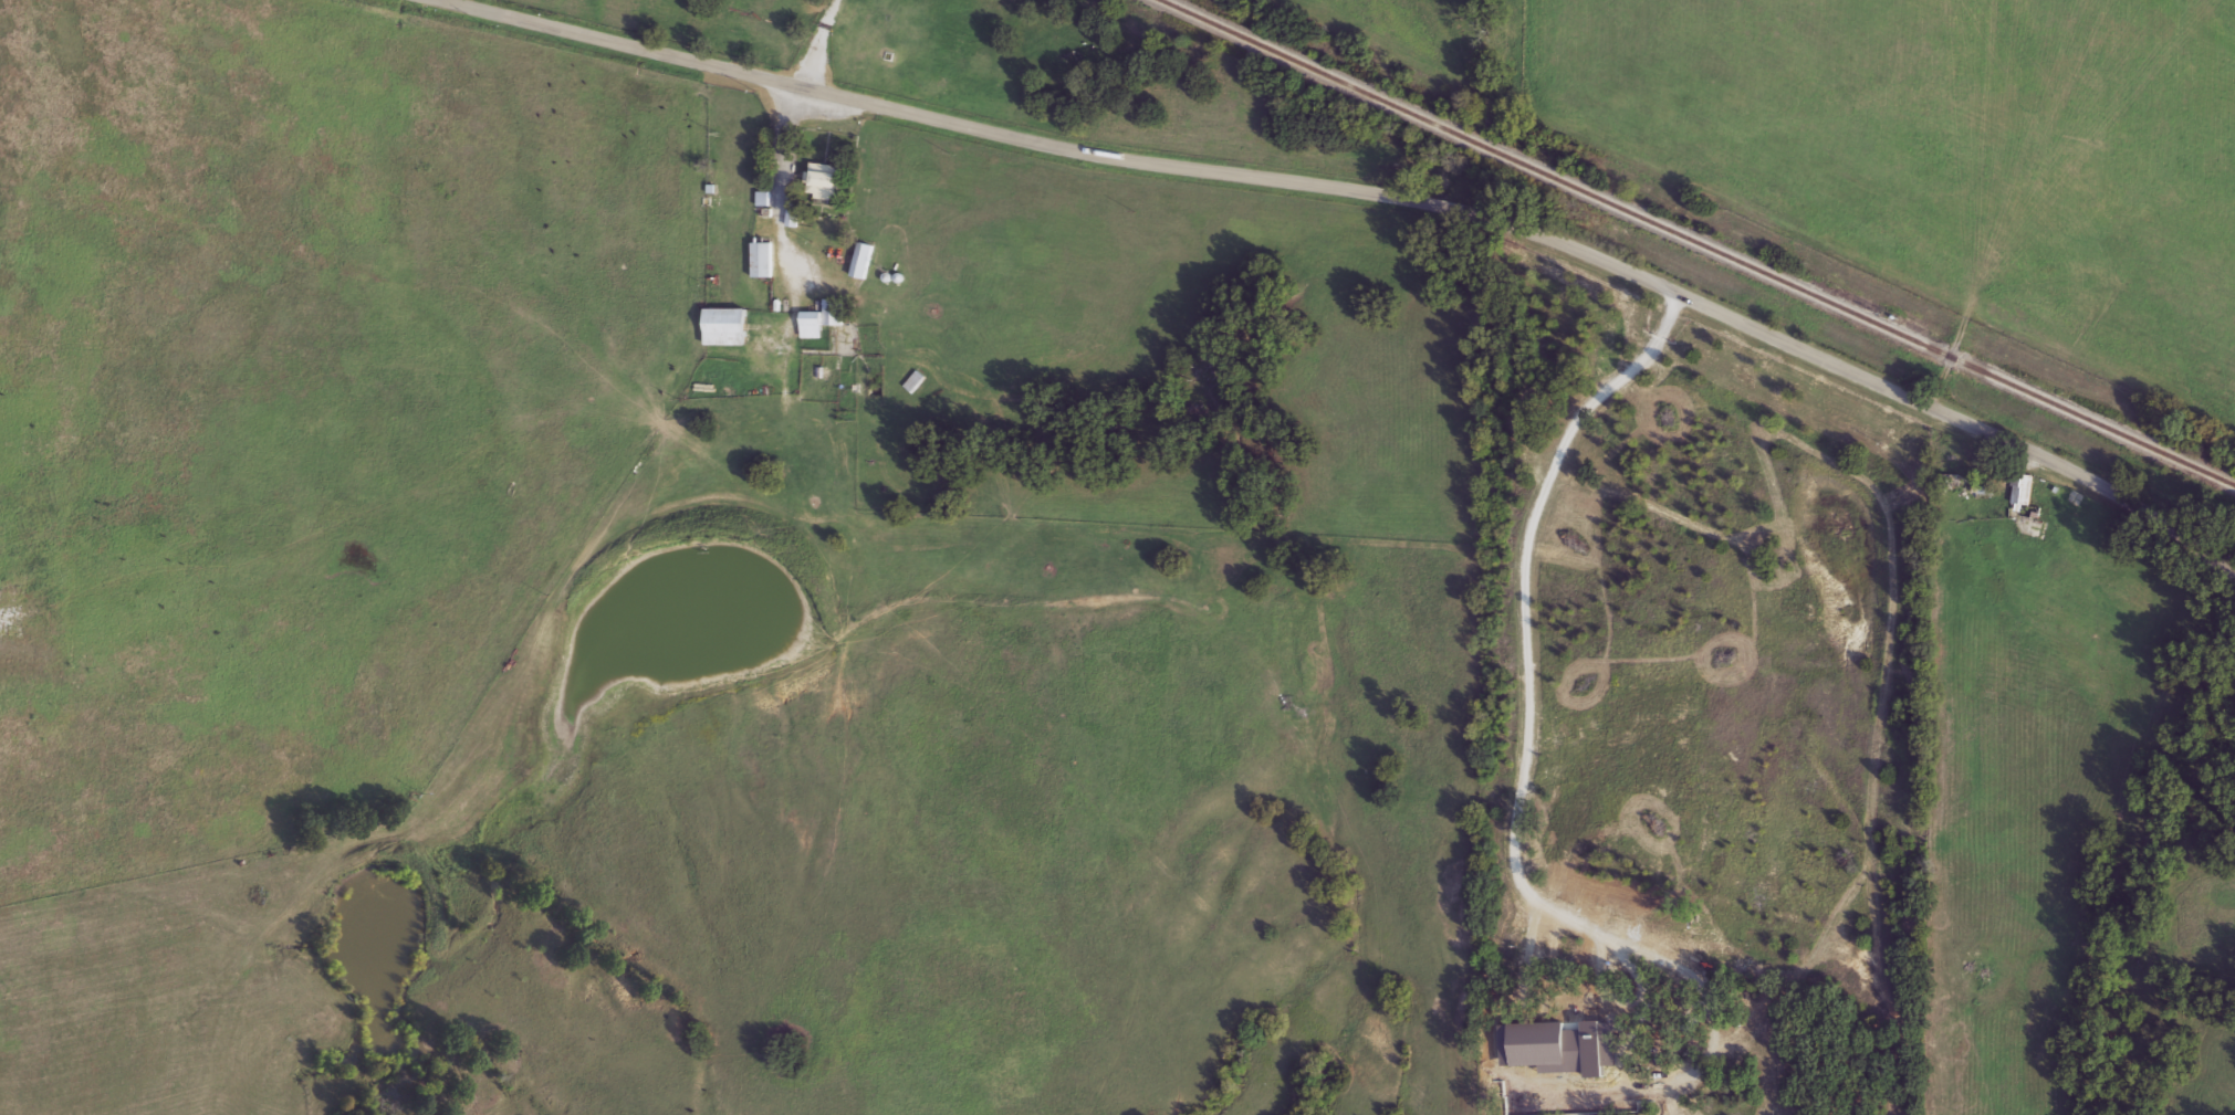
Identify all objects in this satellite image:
road: (792, 132)
building: (825, 182)
road: (1361, 198)
building: (794, 218)
railway: (1695, 242)
building: (863, 262)
building: (823, 319)
building: (727, 327)
building: (2023, 491)
road: (1522, 604)
road: (1632, 1013)

